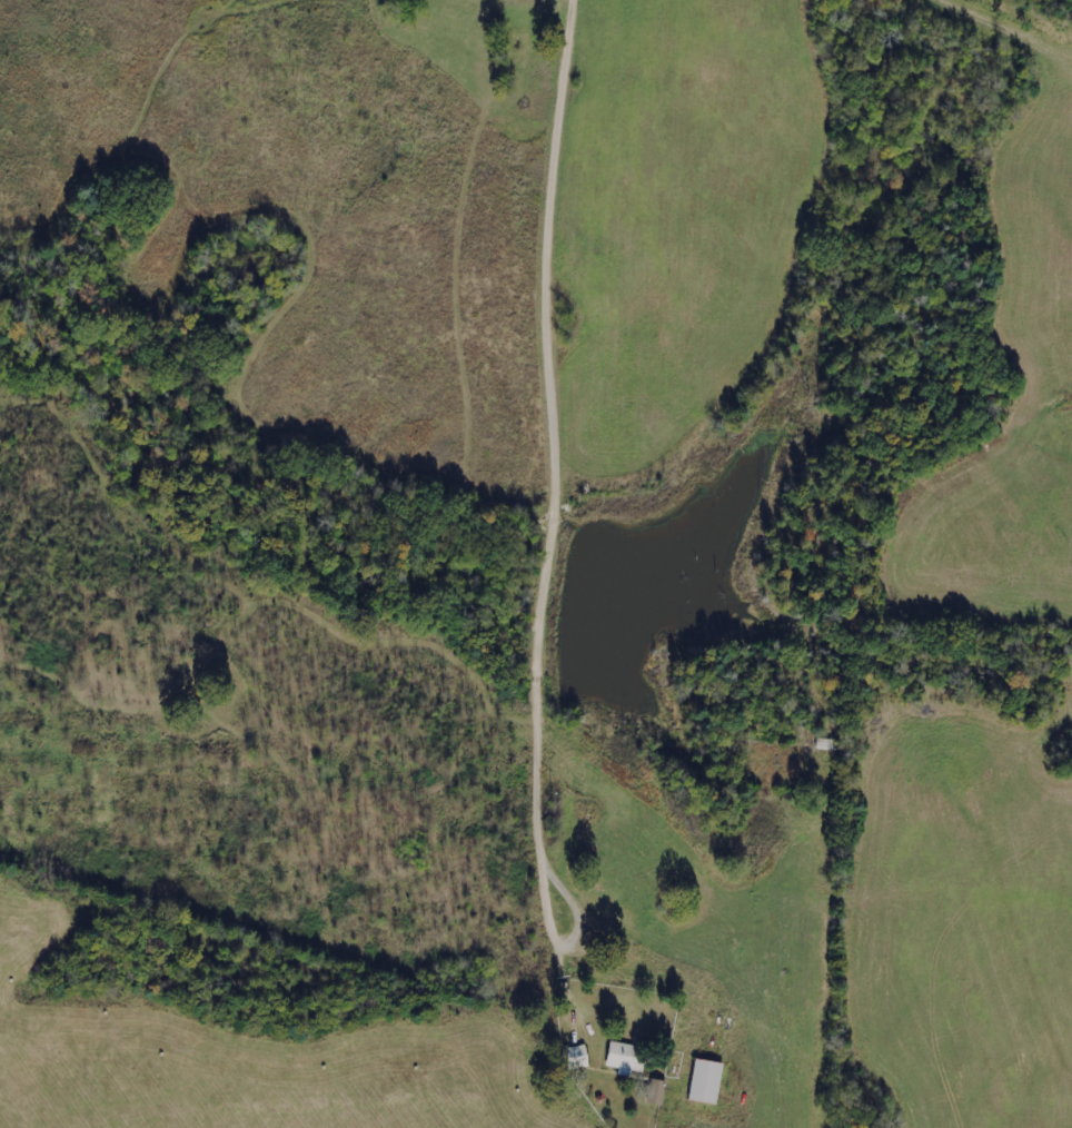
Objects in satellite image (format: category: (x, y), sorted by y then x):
road: (568, 499)
building: (622, 1058)
building: (703, 1081)
building: (655, 1091)

